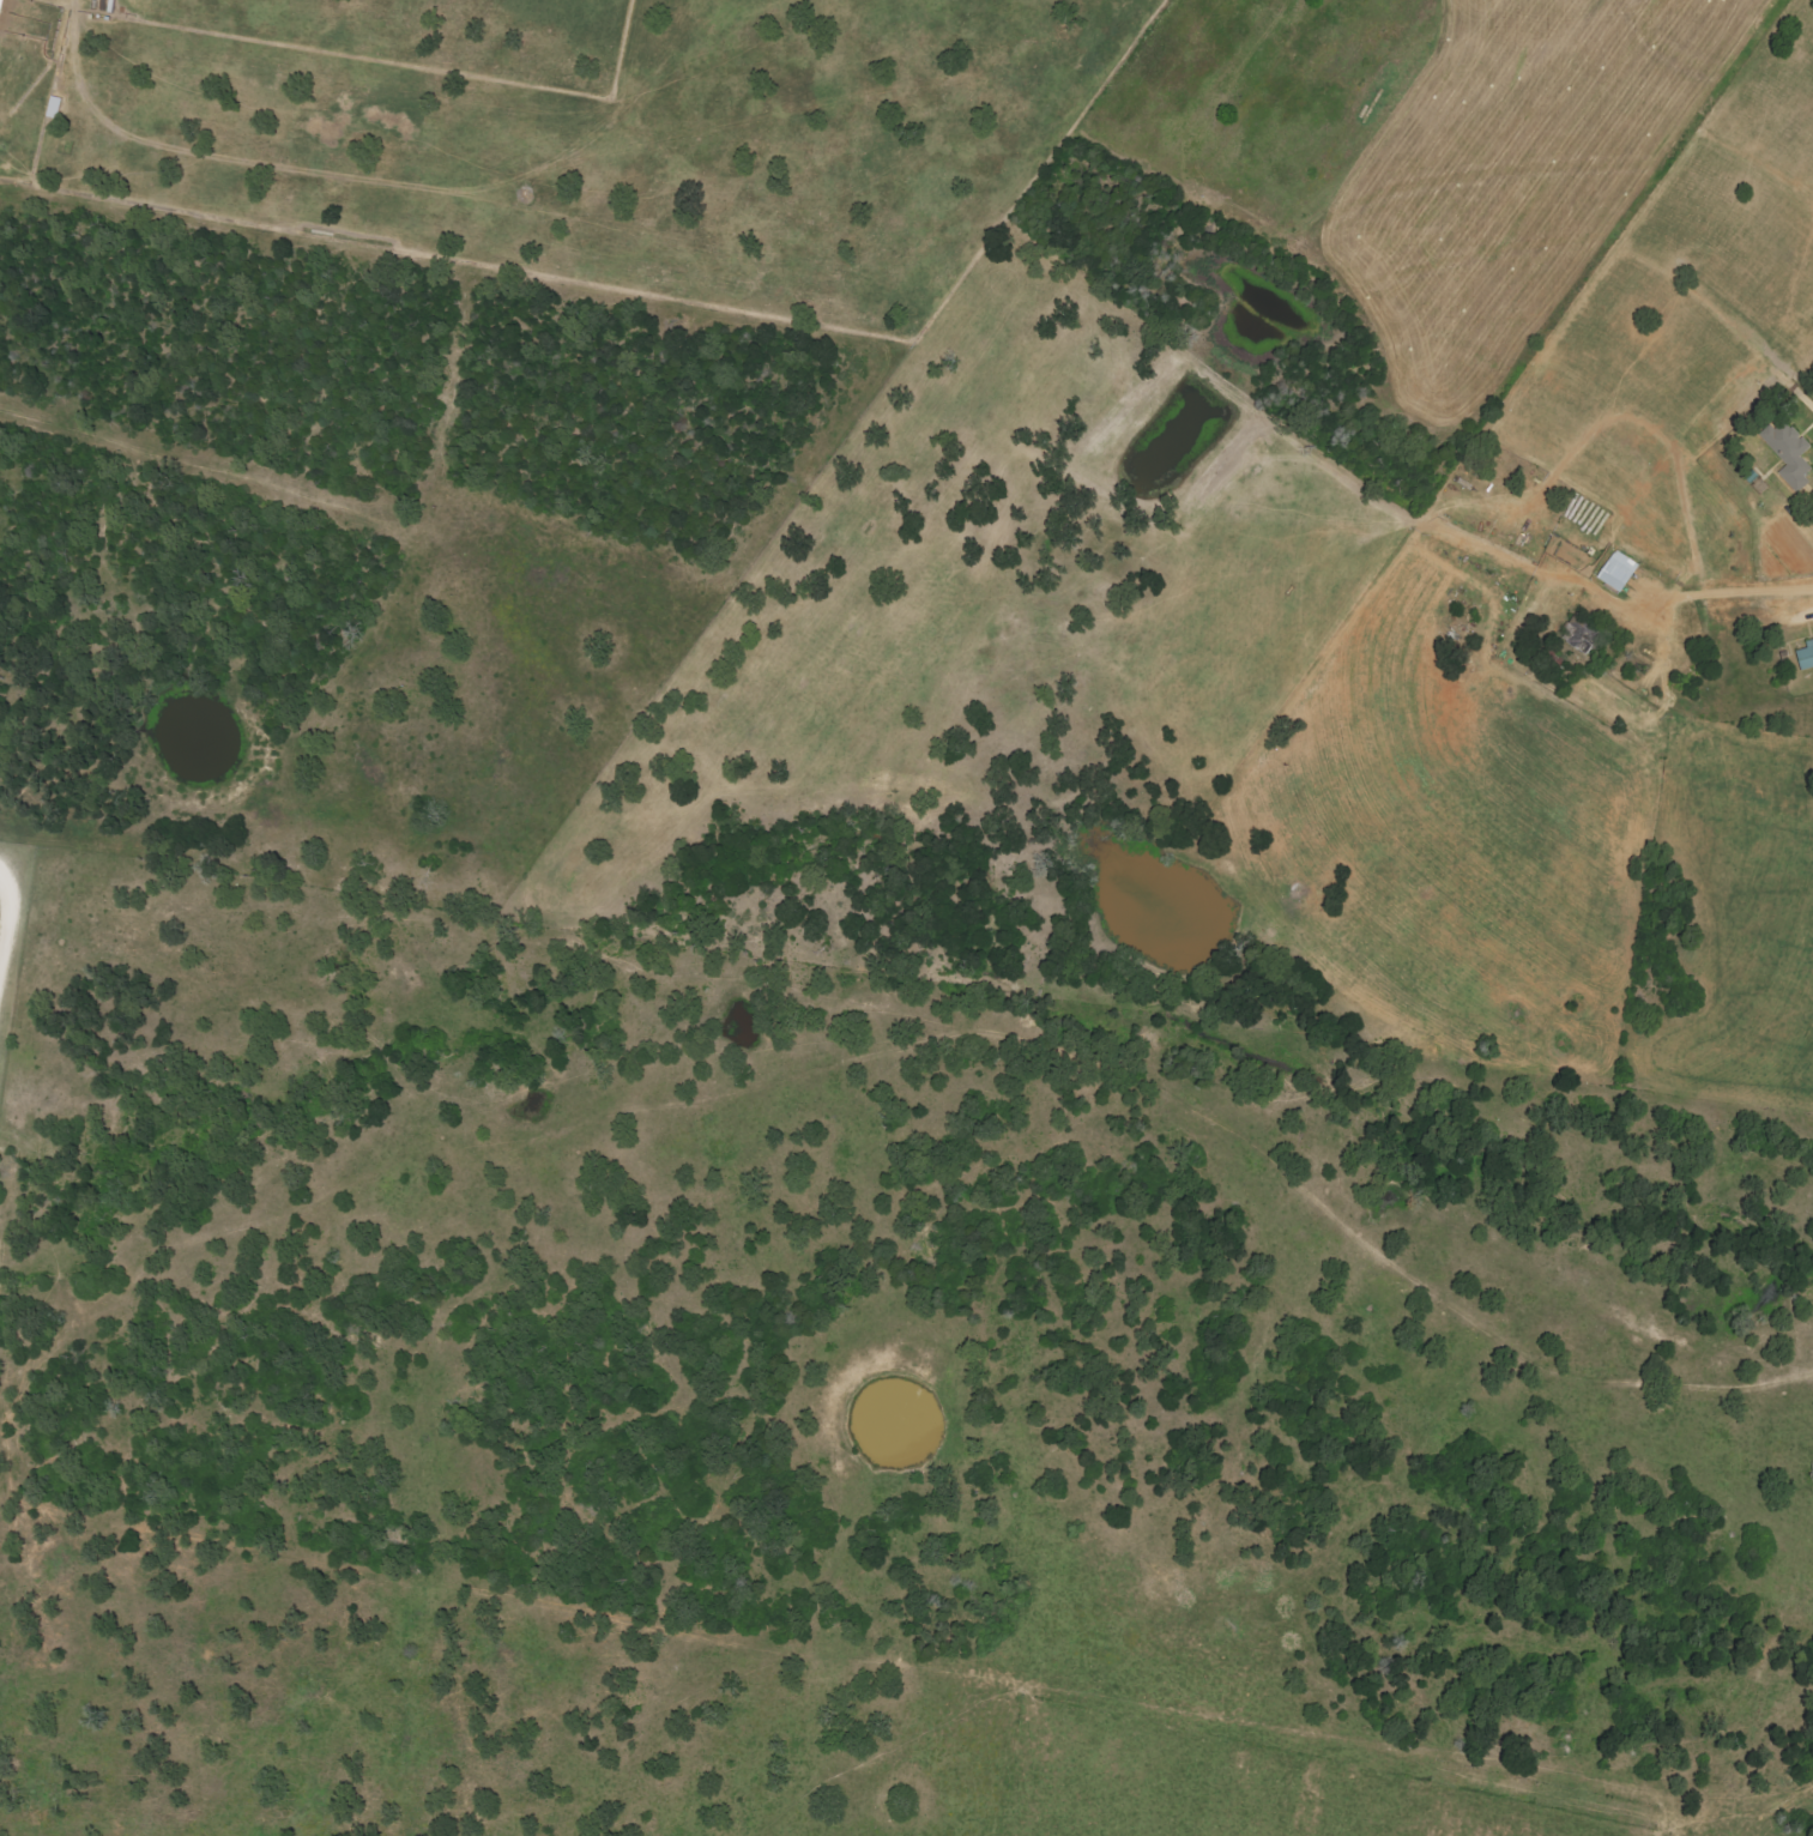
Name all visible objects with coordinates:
building: (0, 4)
road: (1712, 430)
building: (1788, 453)
building: (1618, 570)
road: (1727, 594)
building: (1806, 657)

